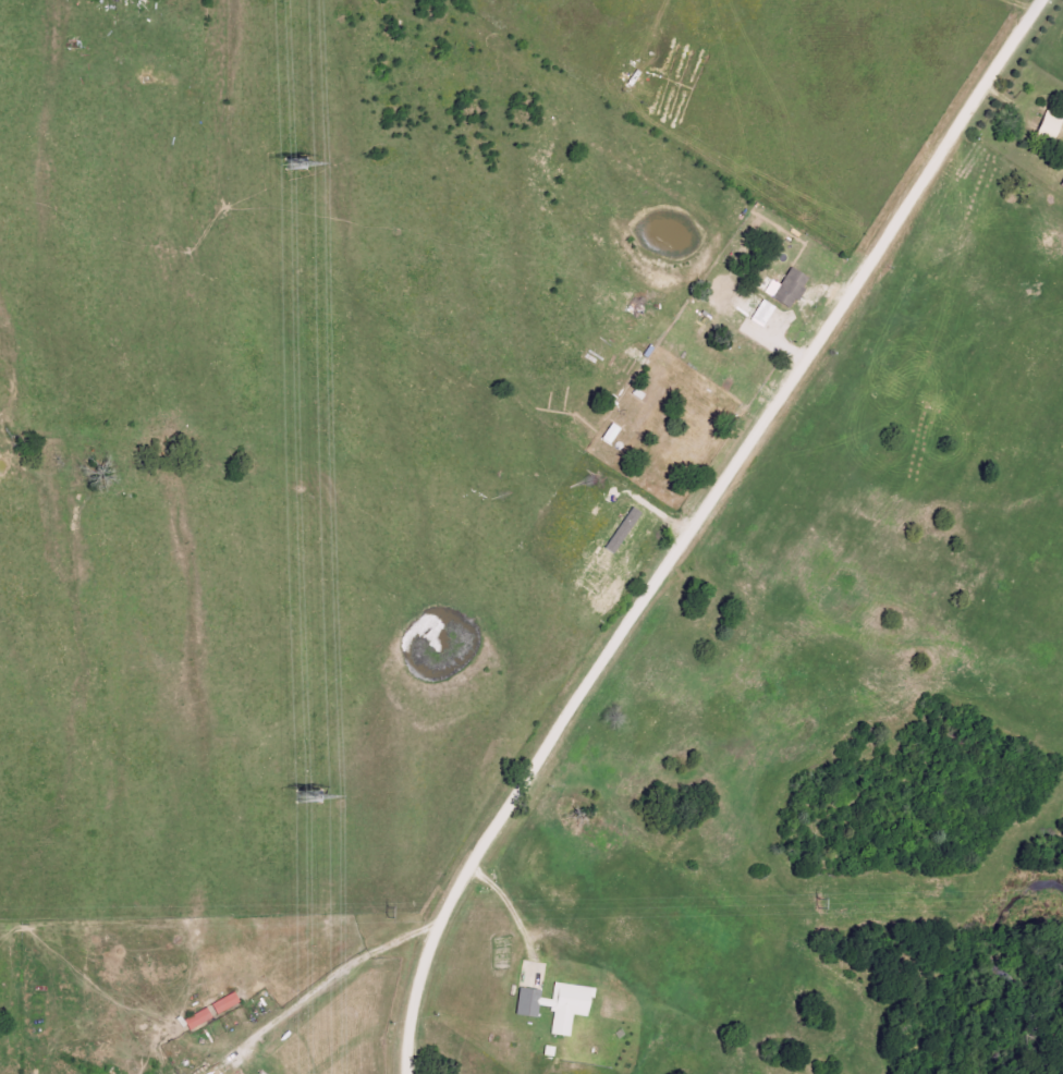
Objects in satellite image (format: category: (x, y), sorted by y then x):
power tower: (294, 161)
building: (1061, 184)
building: (786, 289)
building: (762, 314)
road: (688, 522)
power tower: (309, 796)
power tower: (809, 903)
power tower: (383, 915)
building: (224, 1003)
building: (555, 1004)
building: (197, 1018)

